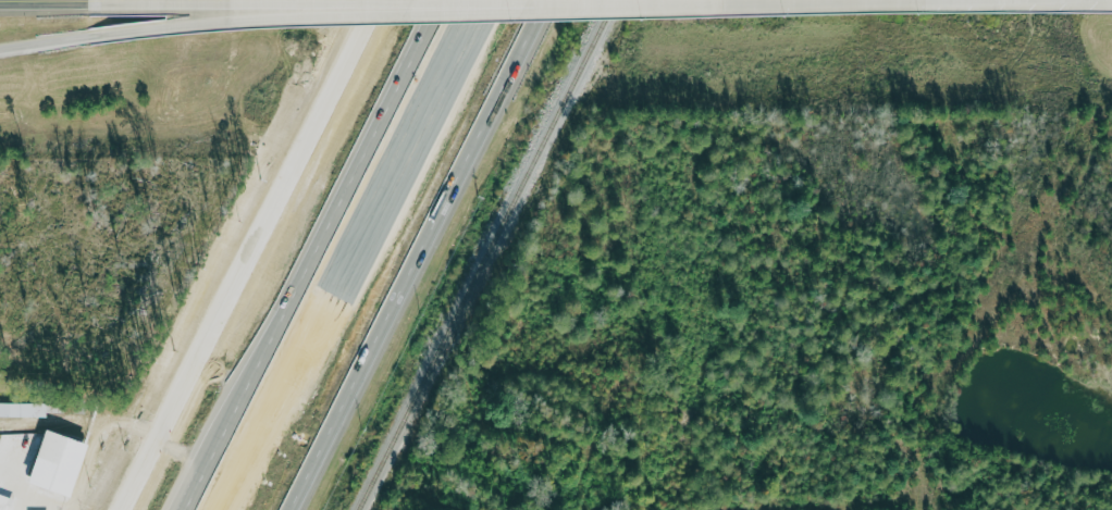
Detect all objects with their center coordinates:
road: (242, 16)
road: (44, 42)
road: (256, 254)
road: (425, 254)
railway: (486, 254)
building: (24, 410)
road: (118, 418)
building: (60, 463)
road: (865, 505)
road: (618, 506)

